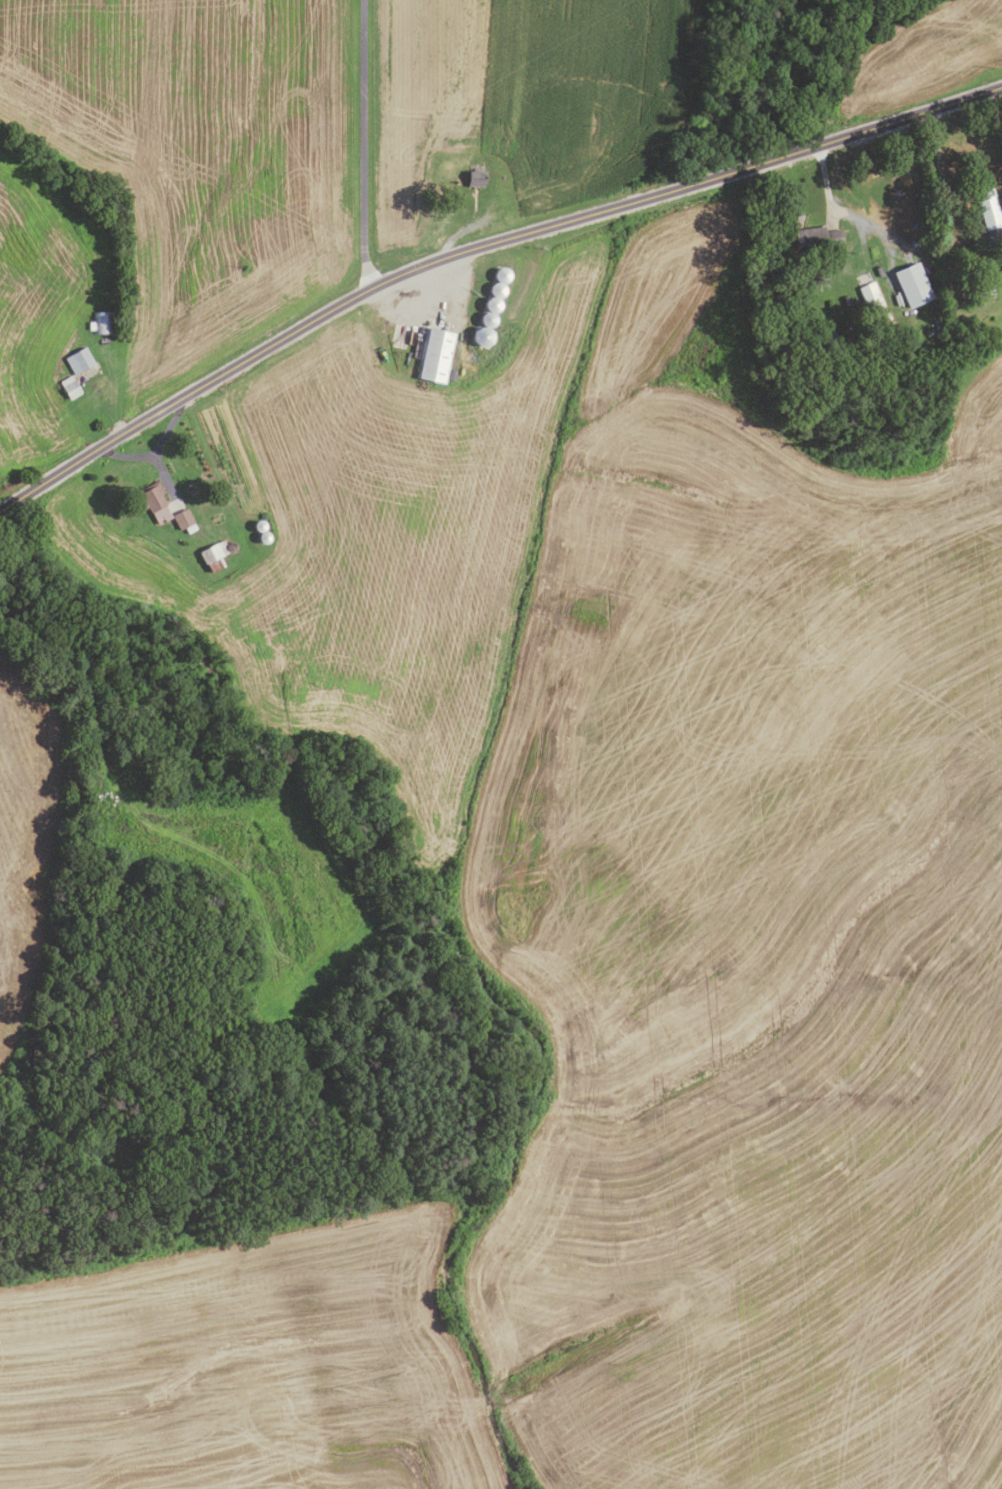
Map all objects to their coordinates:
crop: (921, 58)
road: (363, 144)
crop: (201, 157)
building: (474, 179)
road: (827, 192)
building: (988, 207)
road: (999, 237)
building: (817, 238)
road: (477, 246)
building: (880, 271)
building: (501, 274)
silo: (501, 274)
building: (912, 284)
building: (496, 290)
silo: (496, 290)
building: (987, 290)
building: (846, 300)
building: (872, 301)
building: (491, 305)
silo: (491, 305)
crop: (42, 306)
building: (488, 320)
silo: (488, 320)
building: (103, 322)
building: (90, 326)
building: (481, 336)
silo: (481, 336)
building: (831, 339)
building: (435, 356)
building: (79, 360)
building: (69, 387)
road: (156, 451)
road: (124, 456)
building: (192, 492)
building: (214, 498)
building: (153, 502)
building: (182, 519)
building: (258, 526)
silo: (258, 526)
building: (264, 538)
silo: (264, 538)
building: (211, 557)

